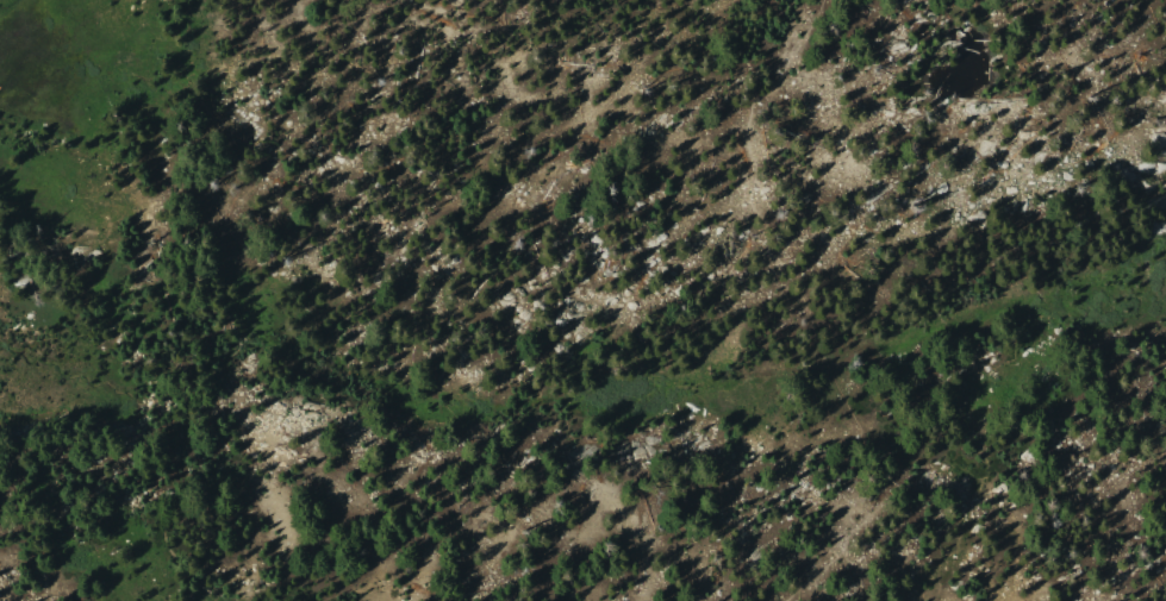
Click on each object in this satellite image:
road: (798, 308)

